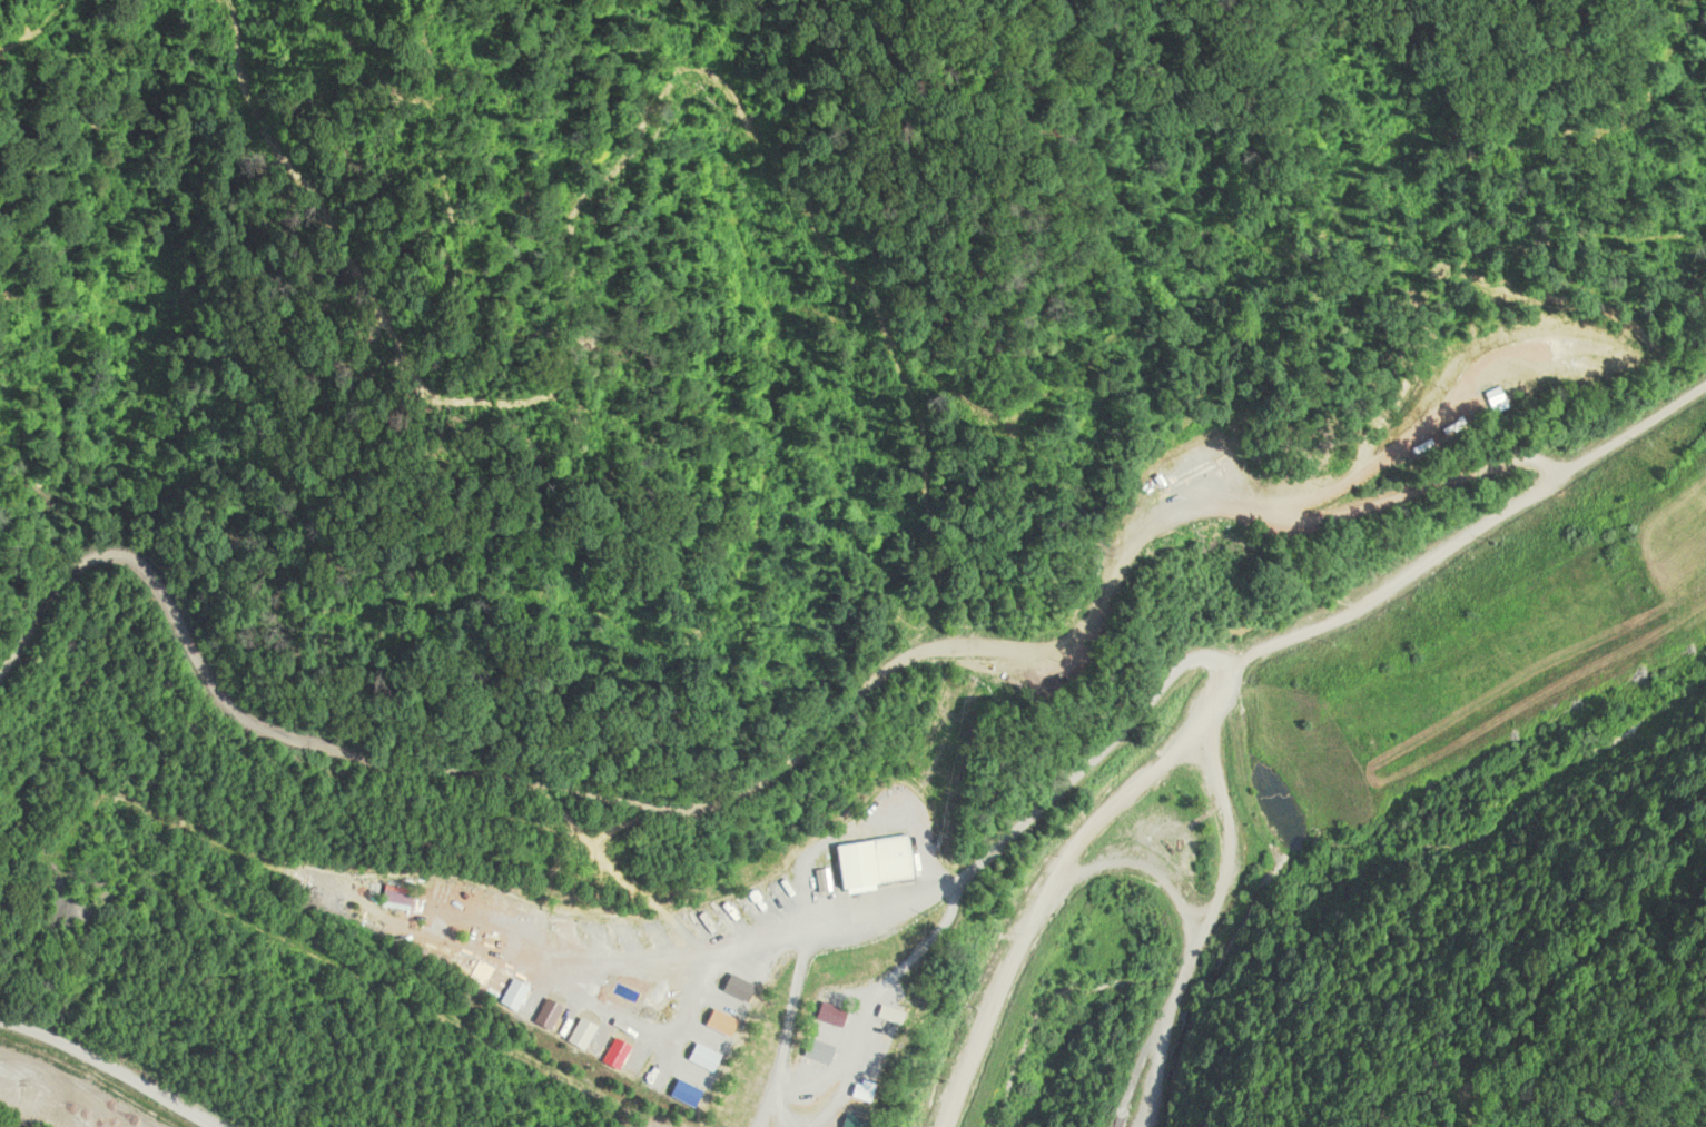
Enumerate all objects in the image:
building: (880, 863)
road: (1176, 935)
road: (987, 1027)
road: (107, 1071)
railway: (90, 1077)

